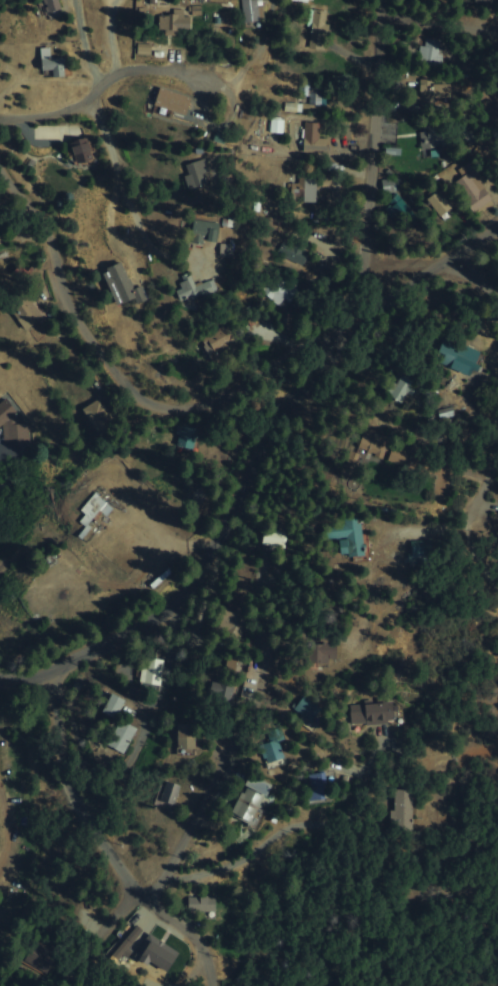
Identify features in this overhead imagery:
building: (485, 2)
building: (51, 6)
building: (251, 11)
building: (174, 22)
building: (221, 24)
building: (317, 34)
road: (441, 36)
road: (86, 42)
building: (428, 55)
building: (51, 62)
road: (99, 82)
building: (316, 97)
building: (313, 140)
building: (82, 152)
road: (116, 167)
road: (357, 171)
building: (197, 175)
building: (471, 193)
building: (205, 230)
road: (21, 234)
road: (477, 280)
building: (121, 283)
building: (198, 284)
building: (279, 292)
building: (26, 312)
building: (219, 341)
road: (112, 376)
building: (399, 388)
building: (95, 410)
building: (12, 426)
building: (375, 443)
road: (252, 465)
building: (94, 508)
road: (474, 515)
building: (345, 537)
building: (420, 547)
building: (228, 623)
building: (150, 671)
building: (222, 691)
building: (114, 704)
building: (304, 709)
building: (378, 713)
building: (187, 736)
building: (121, 737)
building: (268, 753)
road: (213, 774)
building: (314, 786)
building: (167, 793)
building: (248, 797)
building: (401, 809)
road: (104, 844)
road: (250, 855)
building: (204, 903)
road: (108, 937)
building: (42, 961)

